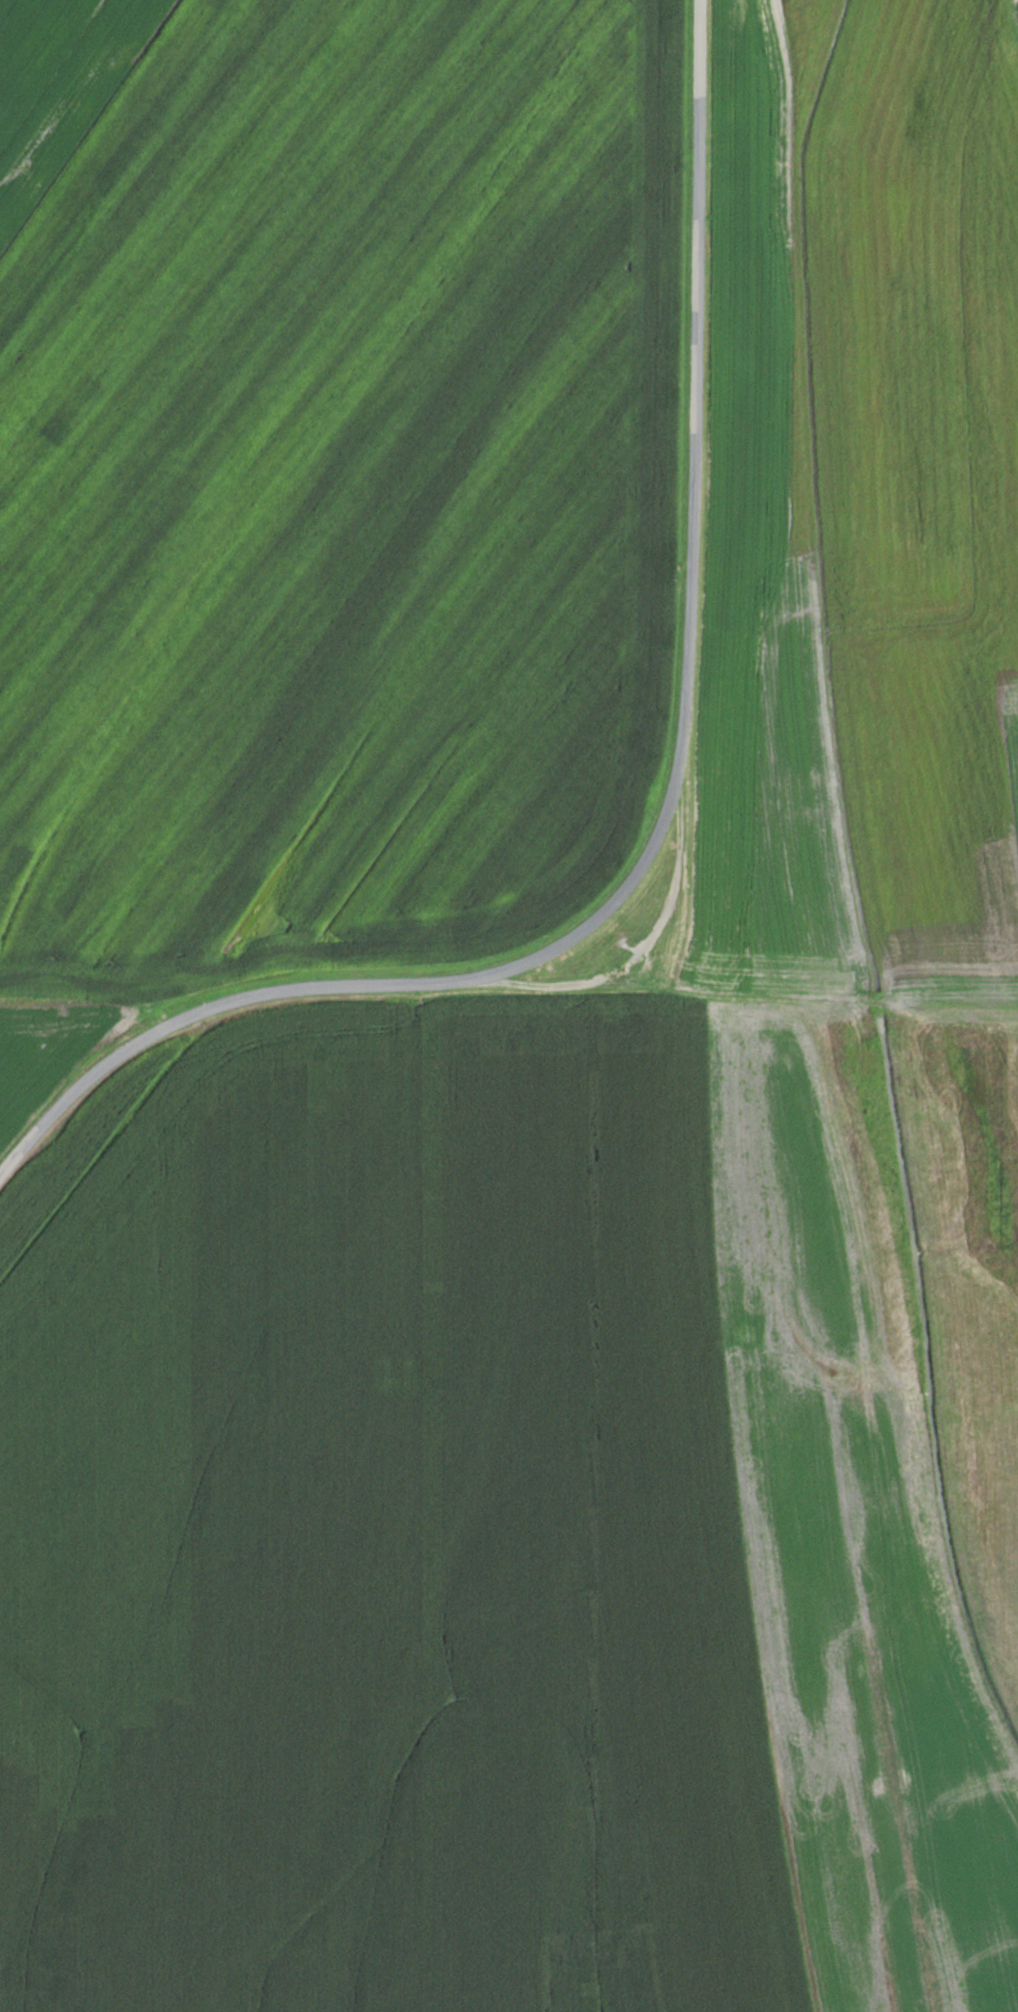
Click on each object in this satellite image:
road: (663, 805)
road: (644, 950)
road: (821, 992)

